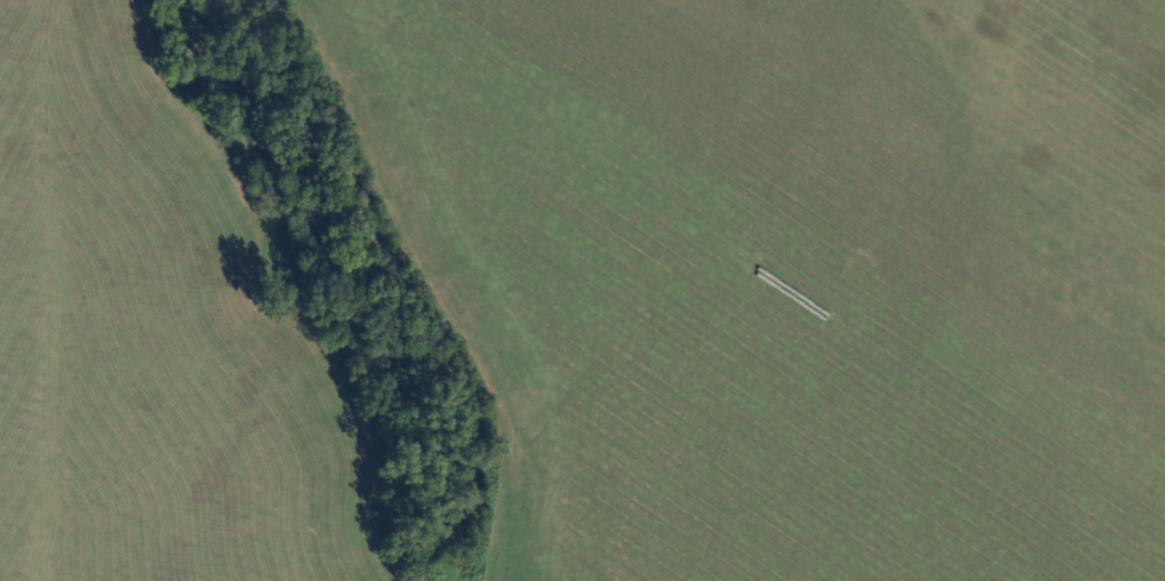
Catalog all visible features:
crop: (154, 337)

